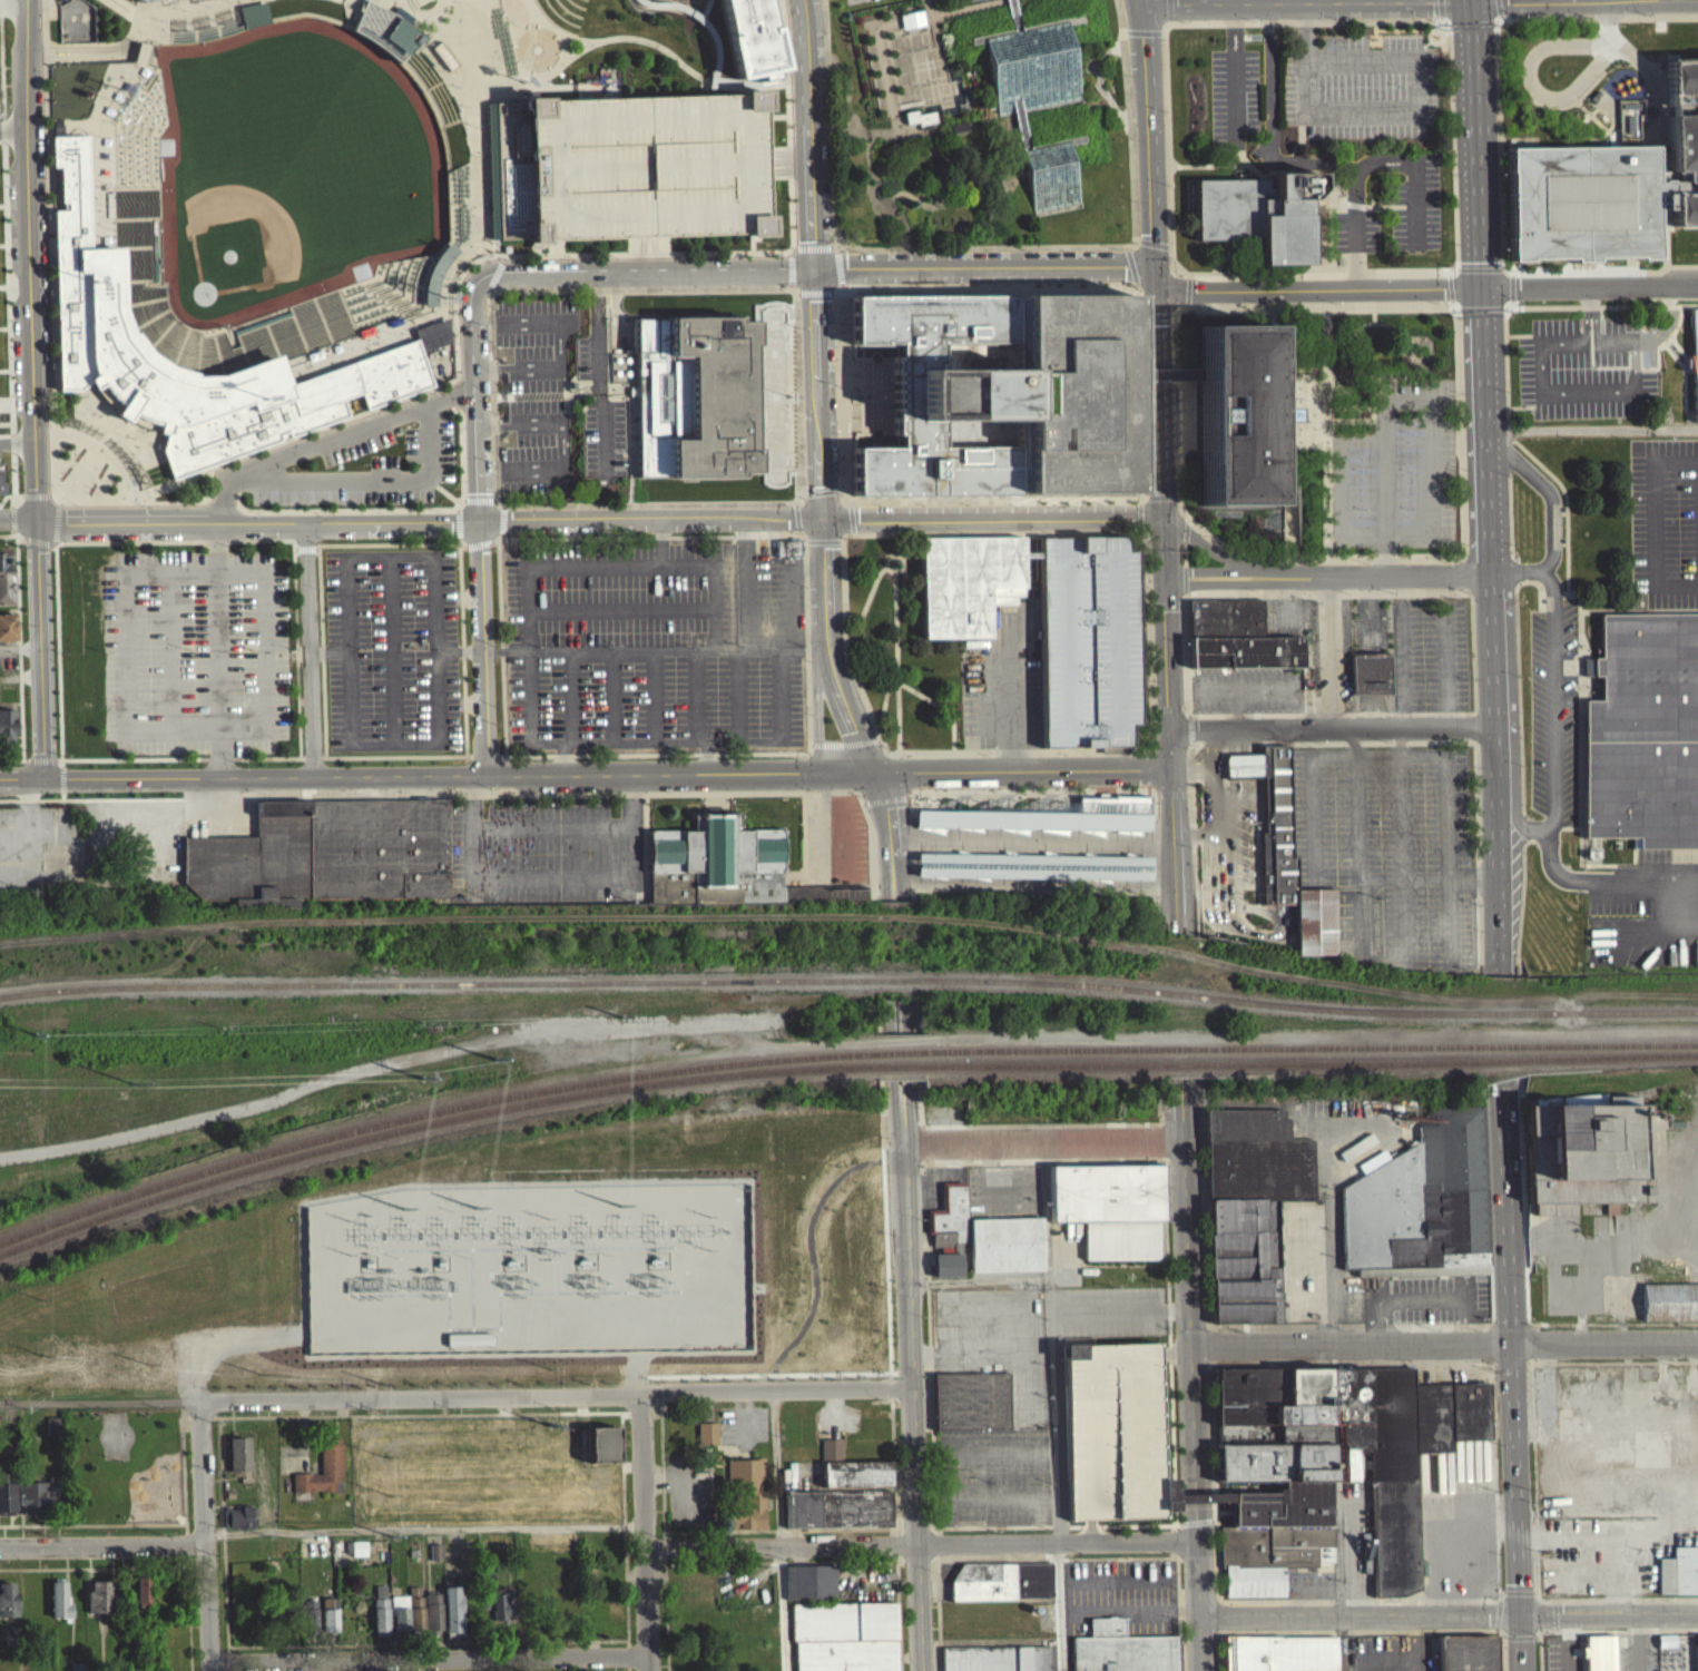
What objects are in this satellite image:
building: (979, 1)
road: (1262, 1)
road: (1299, 1)
road: (1304, 1)
building: (143, 2)
road: (360, 2)
road: (1139, 2)
road: (1278, 2)
building: (116, 3)
parking lot: (863, 3)
road: (147, 4)
road: (204, 4)
traffic signals: (1140, 6)
road: (521, 8)
road: (921, 10)
road: (128, 14)
road: (413, 14)
road: (189, 16)
road: (923, 16)
road: (119, 18)
building: (251, 21)
road: (1170, 21)
road: (1607, 21)
road: (523, 22)
road: (891, 28)
building: (76, 29)
road: (352, 30)
road: (406, 31)
road: (473, 32)
road: (546, 33)
road: (204, 35)
road: (533, 35)
building: (384, 36)
road: (1115, 37)
road: (551, 38)
road: (1122, 39)
road: (1142, 40)
building: (747, 41)
road: (147, 51)
road: (511, 52)
fountain: (533, 56)
road: (89, 60)
road: (140, 60)
road: (558, 62)
road: (910, 63)
road: (1496, 66)
road: (1235, 68)
road: (451, 72)
road: (544, 78)
road: (432, 82)
road: (432, 82)
parking lot: (1363, 83)
road: (1532, 83)
road: (941, 90)
parking lot: (1235, 91)
road: (706, 95)
road: (441, 96)
road: (440, 97)
road: (131, 104)
building: (1034, 104)
road: (1390, 109)
road: (101, 121)
road: (773, 122)
building: (916, 124)
building: (1630, 124)
road: (439, 125)
park: (976, 125)
road: (1270, 125)
road: (1127, 127)
road: (453, 128)
road: (11, 129)
road: (116, 129)
road: (125, 132)
road: (441, 132)
road: (441, 134)
road: (125, 135)
road: (134, 135)
building: (959, 135)
road: (143, 138)
road: (885, 138)
road: (151, 140)
road: (134, 141)
road: (1475, 142)
road: (846, 144)
road: (92, 147)
road: (0, 148)
road: (143, 148)
road: (868, 148)
road: (1147, 148)
road: (443, 150)
road: (927, 154)
road: (151, 157)
road: (1416, 170)
road: (112, 174)
building: (644, 174)
parking garage: (644, 174)
park: (289, 175)
building: (504, 177)
road: (478, 179)
road: (962, 184)
building: (1607, 185)
road: (125, 195)
stadium: (297, 199)
parking lot: (1416, 201)
road: (158, 209)
building: (1258, 212)
road: (927, 215)
road: (1356, 232)
traffic signals: (1151, 233)
road: (110, 240)
road: (833, 250)
road: (983, 253)
road: (811, 254)
road: (143, 255)
road: (792, 255)
road: (532, 256)
road: (436, 257)
road: (1456, 259)
road: (425, 264)
road: (27, 265)
road: (414, 266)
traffic signals: (1126, 266)
road: (403, 267)
road: (393, 269)
road: (982, 269)
road: (383, 272)
traffic signals: (813, 274)
road: (652, 275)
road: (431, 279)
building: (434, 281)
road: (1589, 284)
road: (415, 285)
traffic signals: (1481, 285)
road: (120, 288)
road: (1317, 288)
road: (356, 289)
traffic signals: (1197, 291)
road: (3, 294)
road: (7, 295)
road: (375, 295)
road: (796, 296)
road: (385, 302)
road: (314, 304)
road: (421, 306)
road: (386, 307)
road: (394, 307)
building: (87, 314)
road: (170, 317)
road: (383, 318)
road: (320, 324)
traffic signals: (1155, 324)
road: (436, 326)
road: (263, 332)
road: (468, 332)
road: (207, 336)
road: (376, 336)
road: (185, 340)
building: (430, 341)
road: (212, 343)
road: (215, 355)
road: (243, 360)
building: (1694, 371)
road: (598, 377)
road: (450, 379)
road: (192, 386)
road: (452, 389)
road: (55, 390)
road: (817, 391)
building: (1002, 391)
parking lot: (557, 396)
road: (453, 402)
building: (691, 403)
building: (1234, 413)
road: (91, 420)
road: (148, 420)
road: (1386, 420)
road: (1592, 425)
road: (337, 427)
road: (1486, 427)
road: (4, 431)
road: (98, 434)
road: (4, 442)
road: (89, 444)
road: (118, 449)
road: (10, 450)
road: (16, 451)
road: (120, 453)
parking lot: (328, 453)
road: (100, 459)
road: (473, 463)
road: (88, 464)
road: (137, 475)
road: (235, 482)
building: (0, 485)
road: (11, 486)
road: (127, 488)
road: (205, 488)
road: (363, 488)
road: (167, 491)
road: (196, 494)
road: (1550, 495)
road: (50, 501)
road: (445, 501)
road: (33, 502)
road: (11, 503)
road: (461, 507)
road: (477, 507)
road: (205, 508)
road: (218, 508)
road: (57, 510)
road: (1161, 510)
road: (455, 515)
road: (392, 517)
road: (818, 519)
traffic signals: (823, 519)
road: (323, 520)
traffic signals: (1162, 520)
road: (1653, 522)
parking lot: (1663, 523)
road: (391, 527)
road: (17, 528)
road: (10, 529)
road: (125, 530)
road: (261, 530)
road: (457, 531)
road: (53, 532)
road: (997, 533)
road: (844, 534)
road: (543, 537)
road: (803, 537)
road: (181, 540)
road: (4, 542)
road: (382, 545)
building: (787, 547)
road: (33, 549)
road: (910, 551)
road: (392, 556)
building: (786, 556)
road: (551, 564)
road: (198, 572)
building: (6, 574)
road: (1328, 576)
road: (747, 580)
building: (968, 580)
road: (895, 599)
road: (867, 602)
road: (621, 608)
road: (1150, 611)
building: (8, 627)
road: (808, 632)
road: (462, 636)
building: (1236, 636)
building: (1088, 640)
parking garage: (1088, 640)
road: (793, 641)
parking lot: (652, 645)
parking lot: (392, 646)
road: (18, 647)
road: (20, 648)
road: (481, 648)
road: (688, 649)
road: (1493, 649)
road: (173, 650)
parking lot: (197, 650)
road: (393, 650)
road: (310, 651)
road: (1329, 651)
road: (57, 655)
parking lot: (1435, 655)
road: (38, 657)
road: (297, 657)
road: (323, 657)
road: (853, 666)
building: (1371, 672)
parking lot: (1004, 682)
road: (739, 694)
road: (655, 695)
road: (697, 695)
road: (572, 696)
road: (615, 696)
road: (1554, 699)
road: (886, 700)
road: (942, 707)
parking lot: (1554, 709)
road: (900, 717)
building: (7, 724)
road: (1154, 724)
road: (1333, 728)
building: (1645, 733)
road: (657, 740)
road: (396, 743)
road: (842, 744)
road: (1170, 750)
road: (1033, 751)
road: (667, 753)
road: (1436, 753)
road: (396, 754)
road: (495, 755)
road: (180, 756)
road: (709, 756)
road: (11, 757)
road: (566, 757)
road: (41, 759)
road: (1024, 771)
road: (755, 773)
traffic signals: (879, 773)
road: (335, 774)
road: (1496, 776)
road: (61, 778)
road: (19, 784)
road: (830, 790)
road: (675, 793)
road: (323, 796)
road: (632, 802)
road: (1311, 802)
road: (889, 808)
road: (1172, 810)
road: (1356, 822)
road: (874, 837)
building: (1034, 846)
building: (717, 848)
road: (1033, 848)
road: (1403, 848)
parking lot: (547, 849)
parking lot: (1388, 849)
building: (327, 854)
road: (894, 859)
building: (1284, 862)
road: (1553, 863)
road: (602, 876)
road: (1629, 877)
road: (900, 884)
road: (891, 885)
road: (1176, 889)
road: (1033, 894)
road: (1501, 898)
road: (1677, 905)
railway: (899, 979)
railway: (1042, 981)
railway: (436, 982)
railway: (1189, 995)
railway: (1339, 1006)
railway: (1617, 1011)
railway: (1500, 1012)
railway: (1425, 1045)
railway: (1040, 1050)
road: (907, 1051)
road: (892, 1052)
railway: (901, 1052)
railway: (1312, 1060)
railway: (901, 1064)
railway: (430, 1112)
railway: (430, 1123)
road: (1043, 1144)
building: (1593, 1152)
building: (1249, 1216)
building: (1110, 1217)
building: (948, 1223)
building: (1004, 1252)
power substation: (529, 1266)
building: (945, 1274)
building: (1669, 1310)
road: (1445, 1343)
road: (1522, 1347)
road: (1195, 1374)
road: (912, 1385)
road: (557, 1396)
building: (970, 1409)
building: (52, 1434)
building: (1112, 1441)
building: (705, 1442)
building: (601, 1453)
building: (238, 1462)
power substation: (485, 1467)
building: (1328, 1474)
building: (850, 1477)
park: (138, 1478)
building: (322, 1478)
building: (1425, 1488)
building: (746, 1503)
building: (6, 1505)
building: (31, 1506)
building: (838, 1517)
building: (238, 1526)
road: (648, 1532)
road: (205, 1539)
road: (924, 1545)
road: (102, 1549)
building: (1678, 1580)
building: (1001, 1590)
building: (809, 1591)
building: (141, 1600)
building: (98, 1605)
building: (7, 1608)
road: (781, 1609)
building: (58, 1610)
building: (501, 1615)
building: (414, 1616)
road: (1366, 1616)
road: (1614, 1616)
traffic signals: (1531, 1618)
building: (380, 1619)
building: (452, 1620)
building: (307, 1621)
building: (399, 1621)
building: (433, 1622)
building: (844, 1641)
building: (9, 1644)
road: (1531, 1644)
building: (1120, 1653)
building: (1598, 1657)
building: (1696, 1657)
building: (1280, 1658)
building: (1466, 1658)
road: (429, 1661)
building: (995, 1662)

